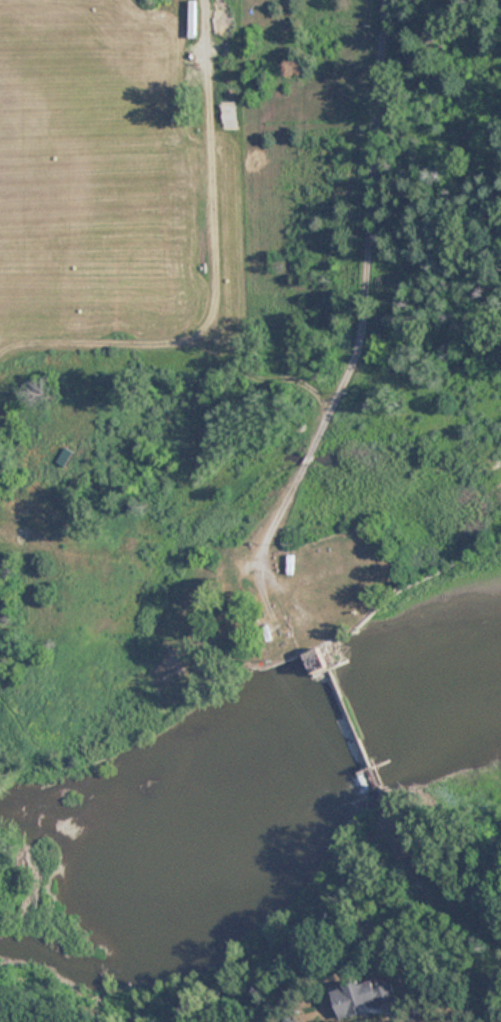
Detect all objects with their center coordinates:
road: (361, 300)
building: (65, 457)
river: (254, 776)
building: (366, 995)

